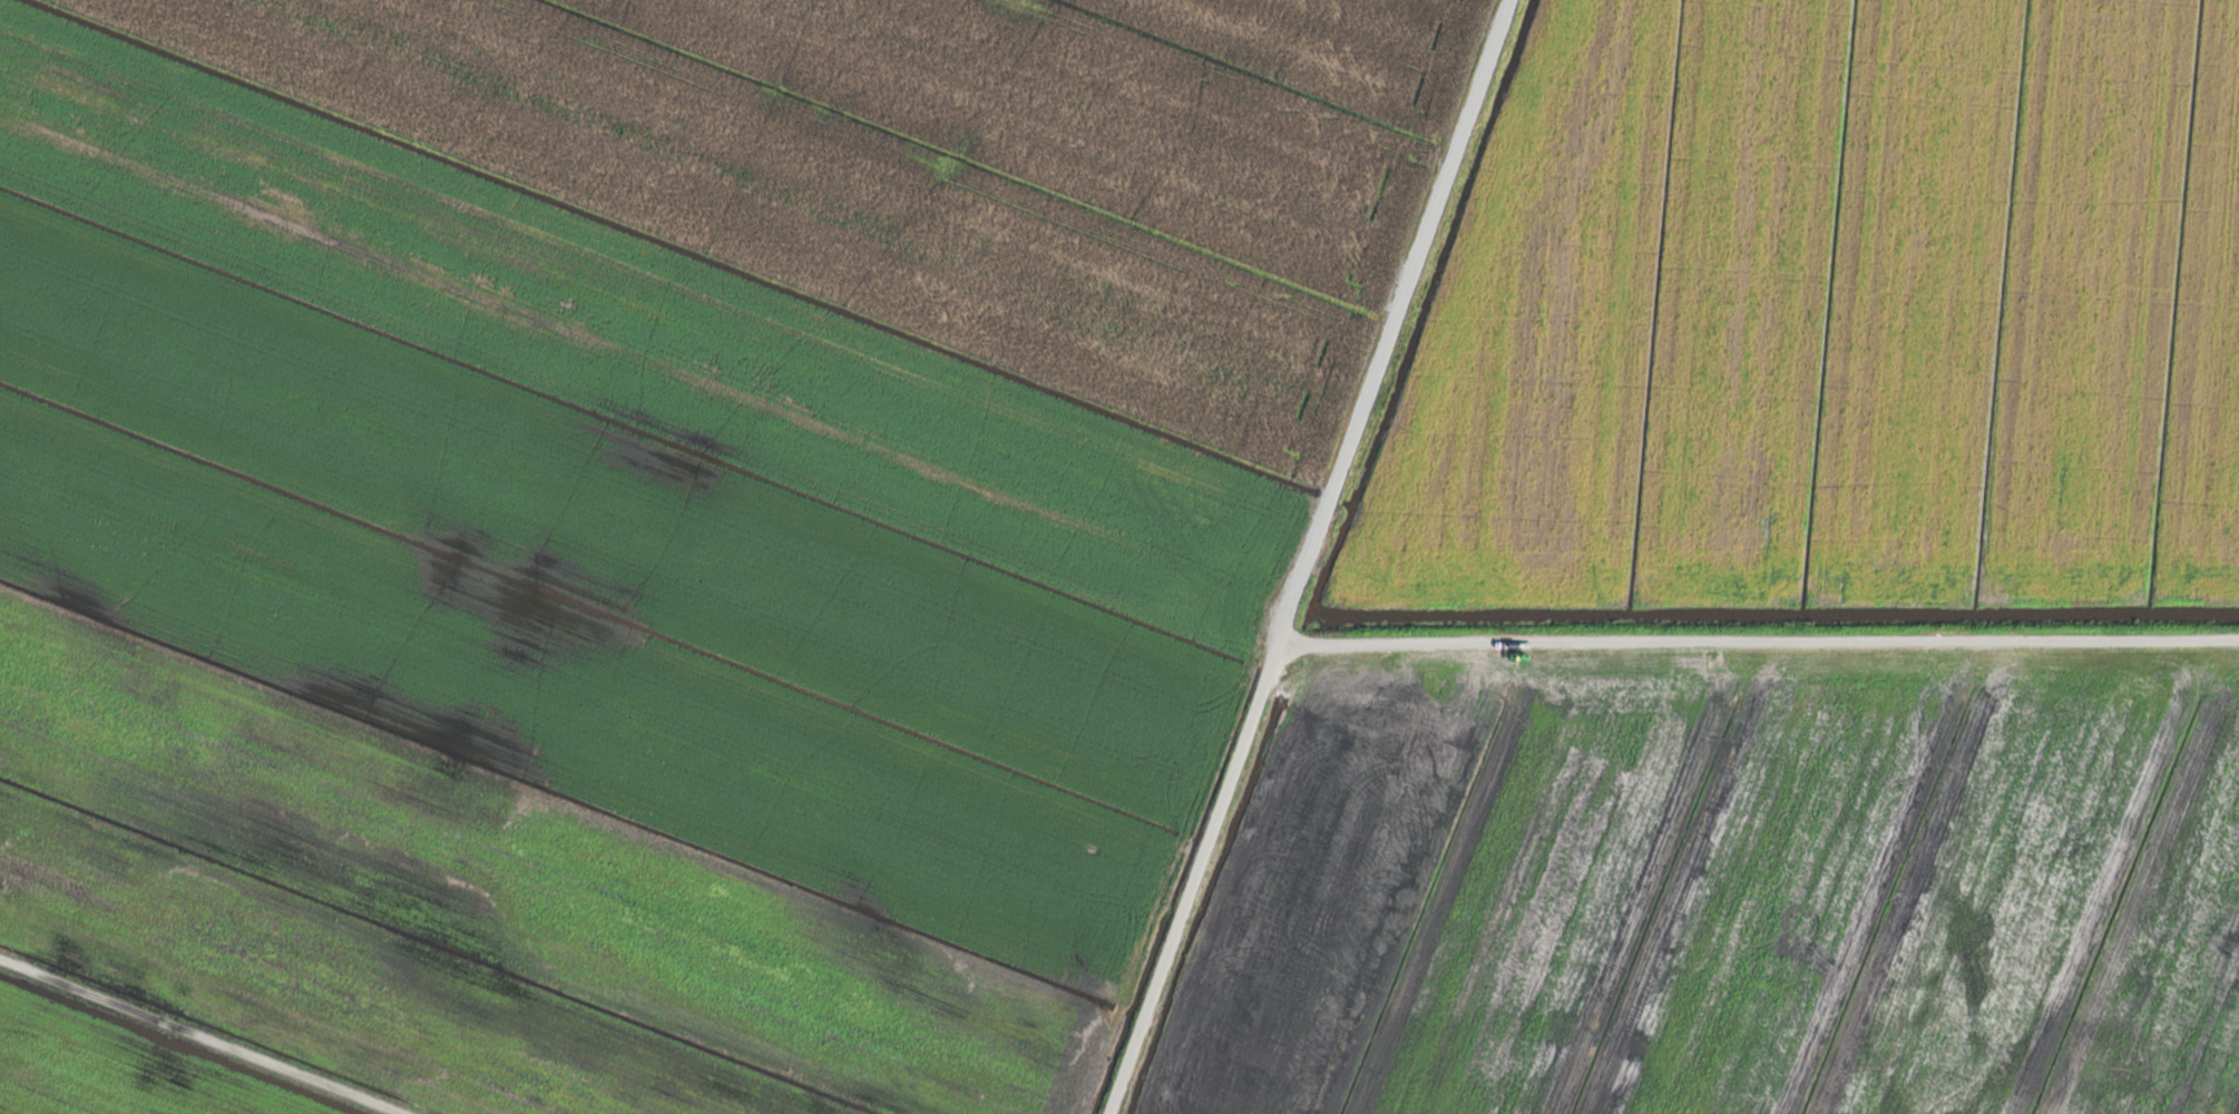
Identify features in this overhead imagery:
road: (1323, 561)
road: (1764, 657)

